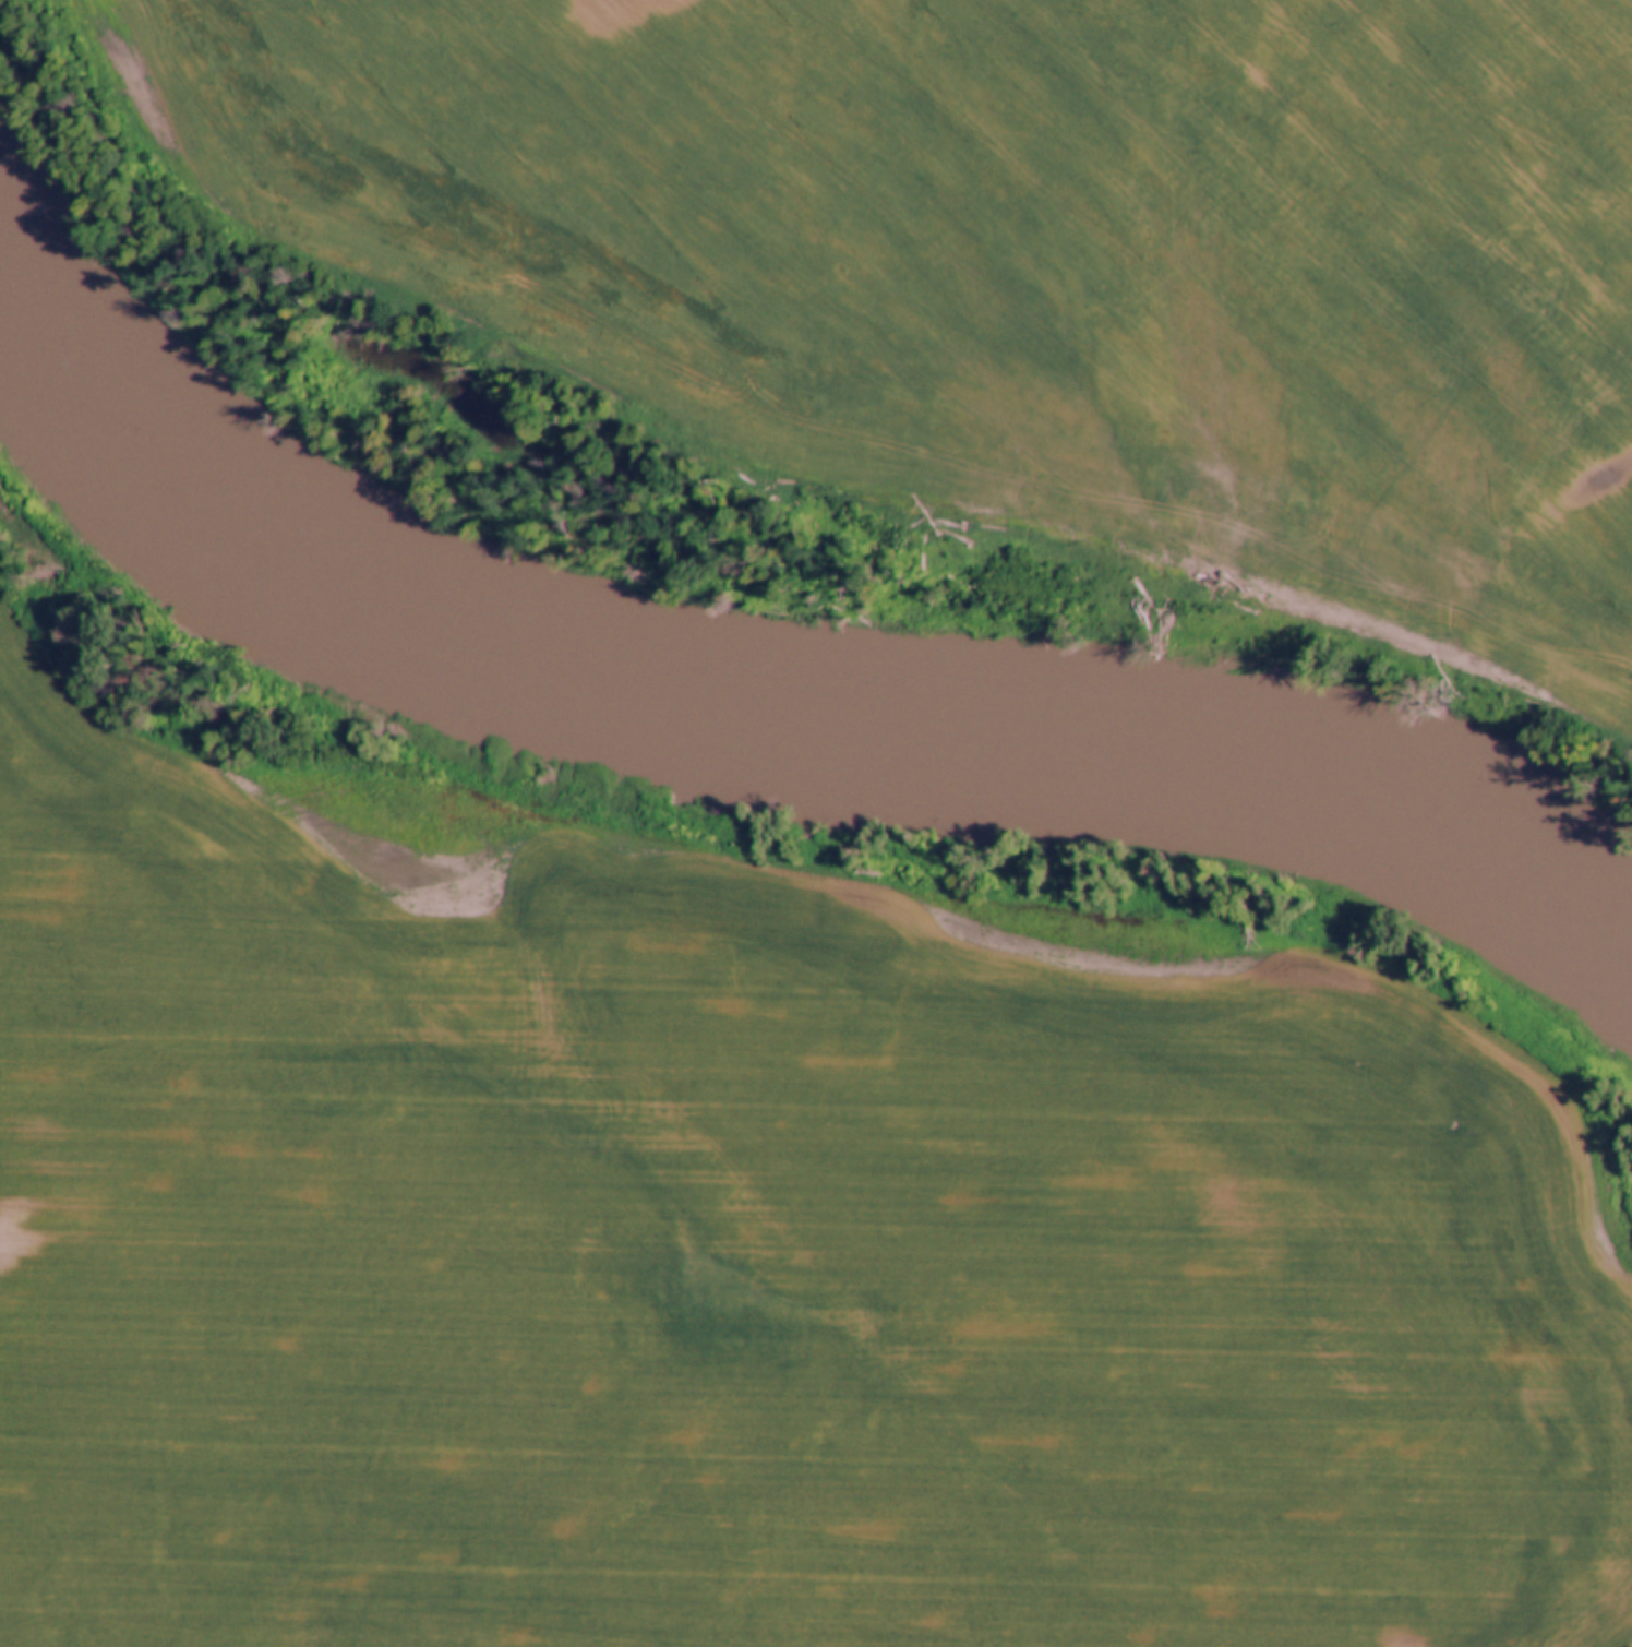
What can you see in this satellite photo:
road: (65, 685)
river: (767, 715)

